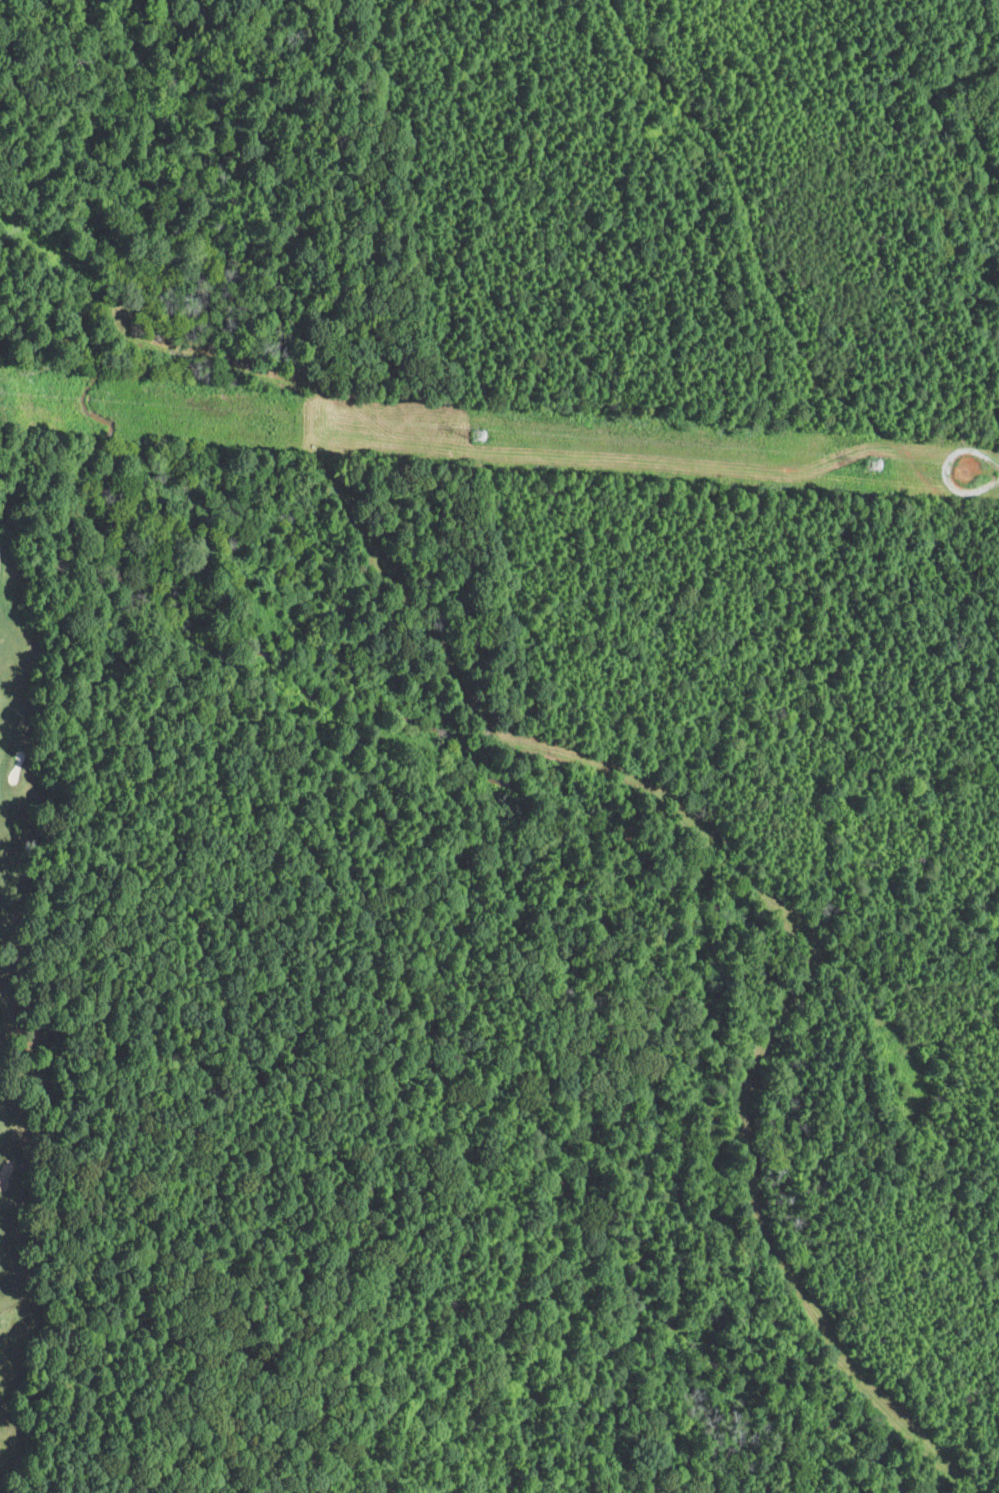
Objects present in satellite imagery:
power tower: (476, 440)
power tower: (874, 466)
park: (27, 976)

